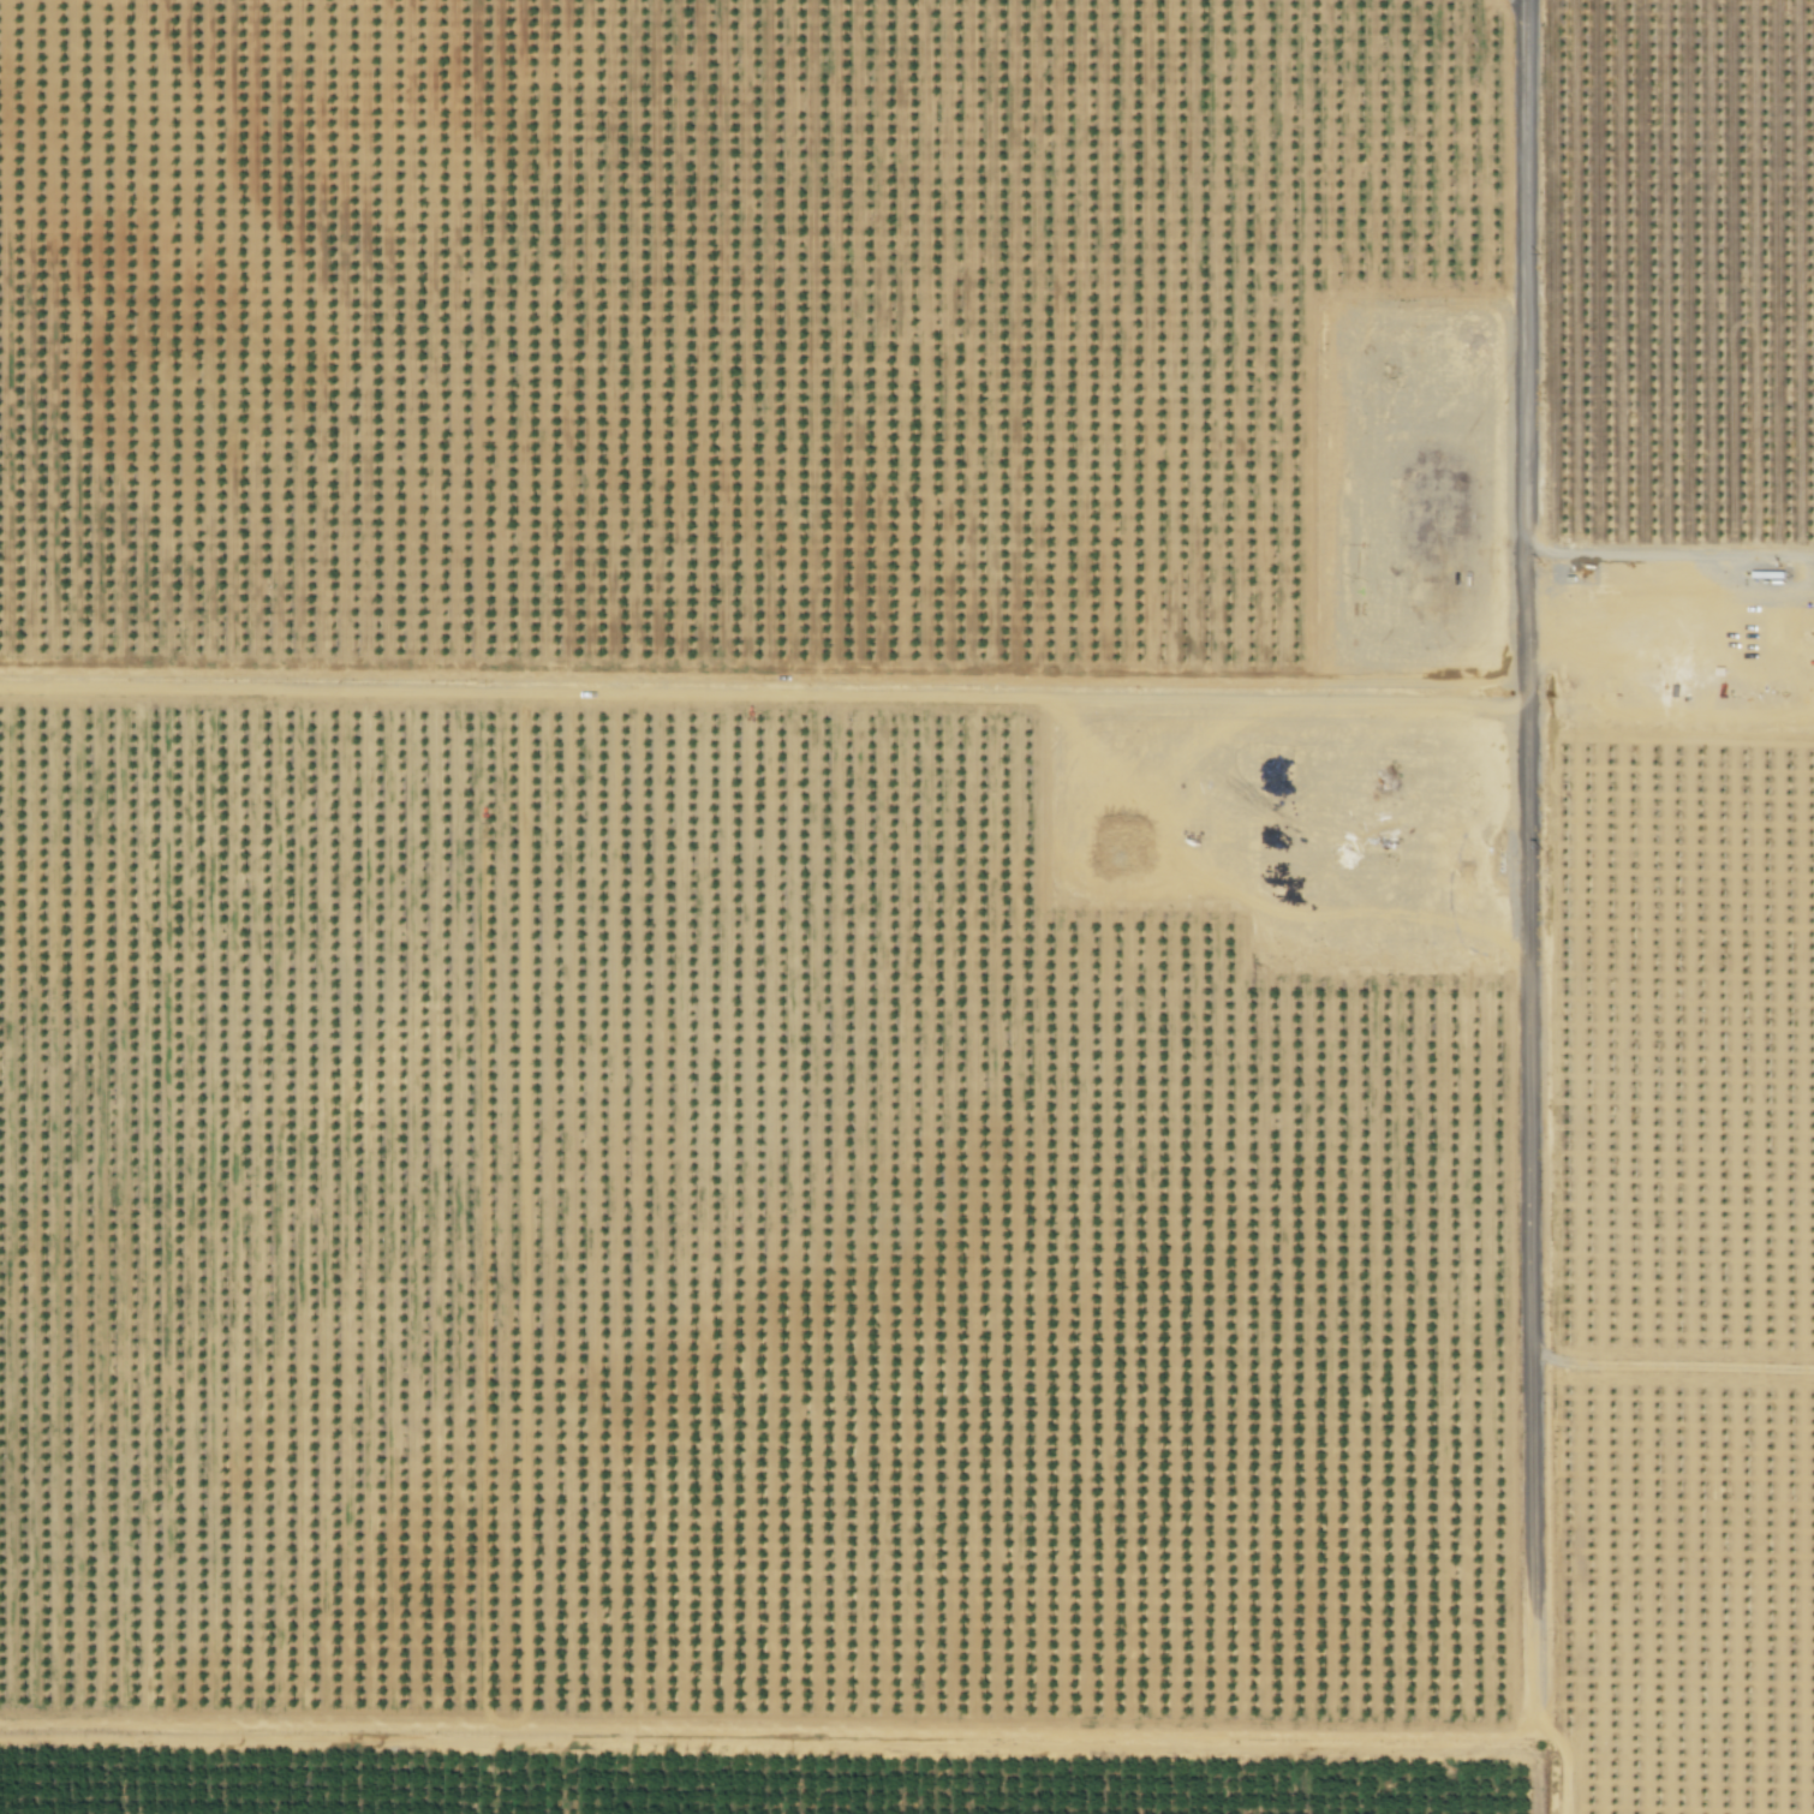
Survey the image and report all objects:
wastewater plant: (1788, 702)

